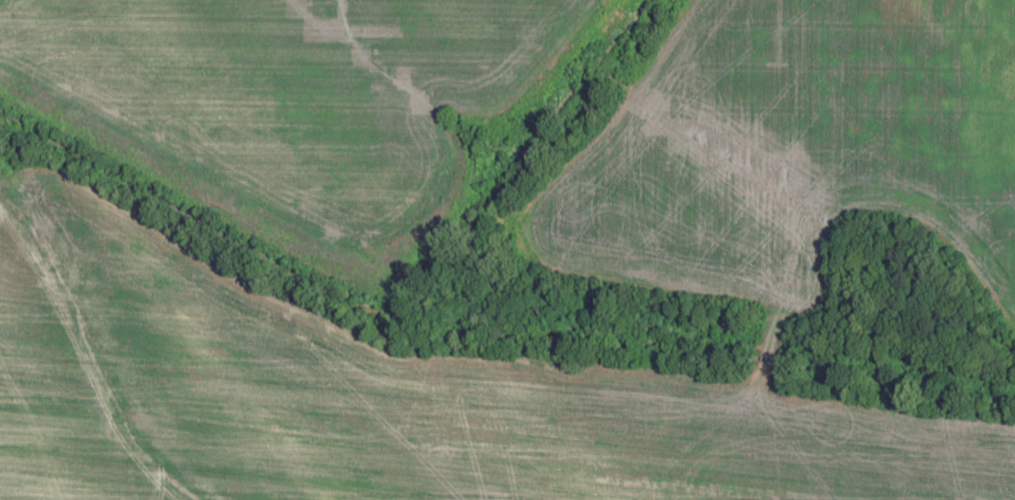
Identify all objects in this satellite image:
road: (81, 357)
road: (55, 431)

